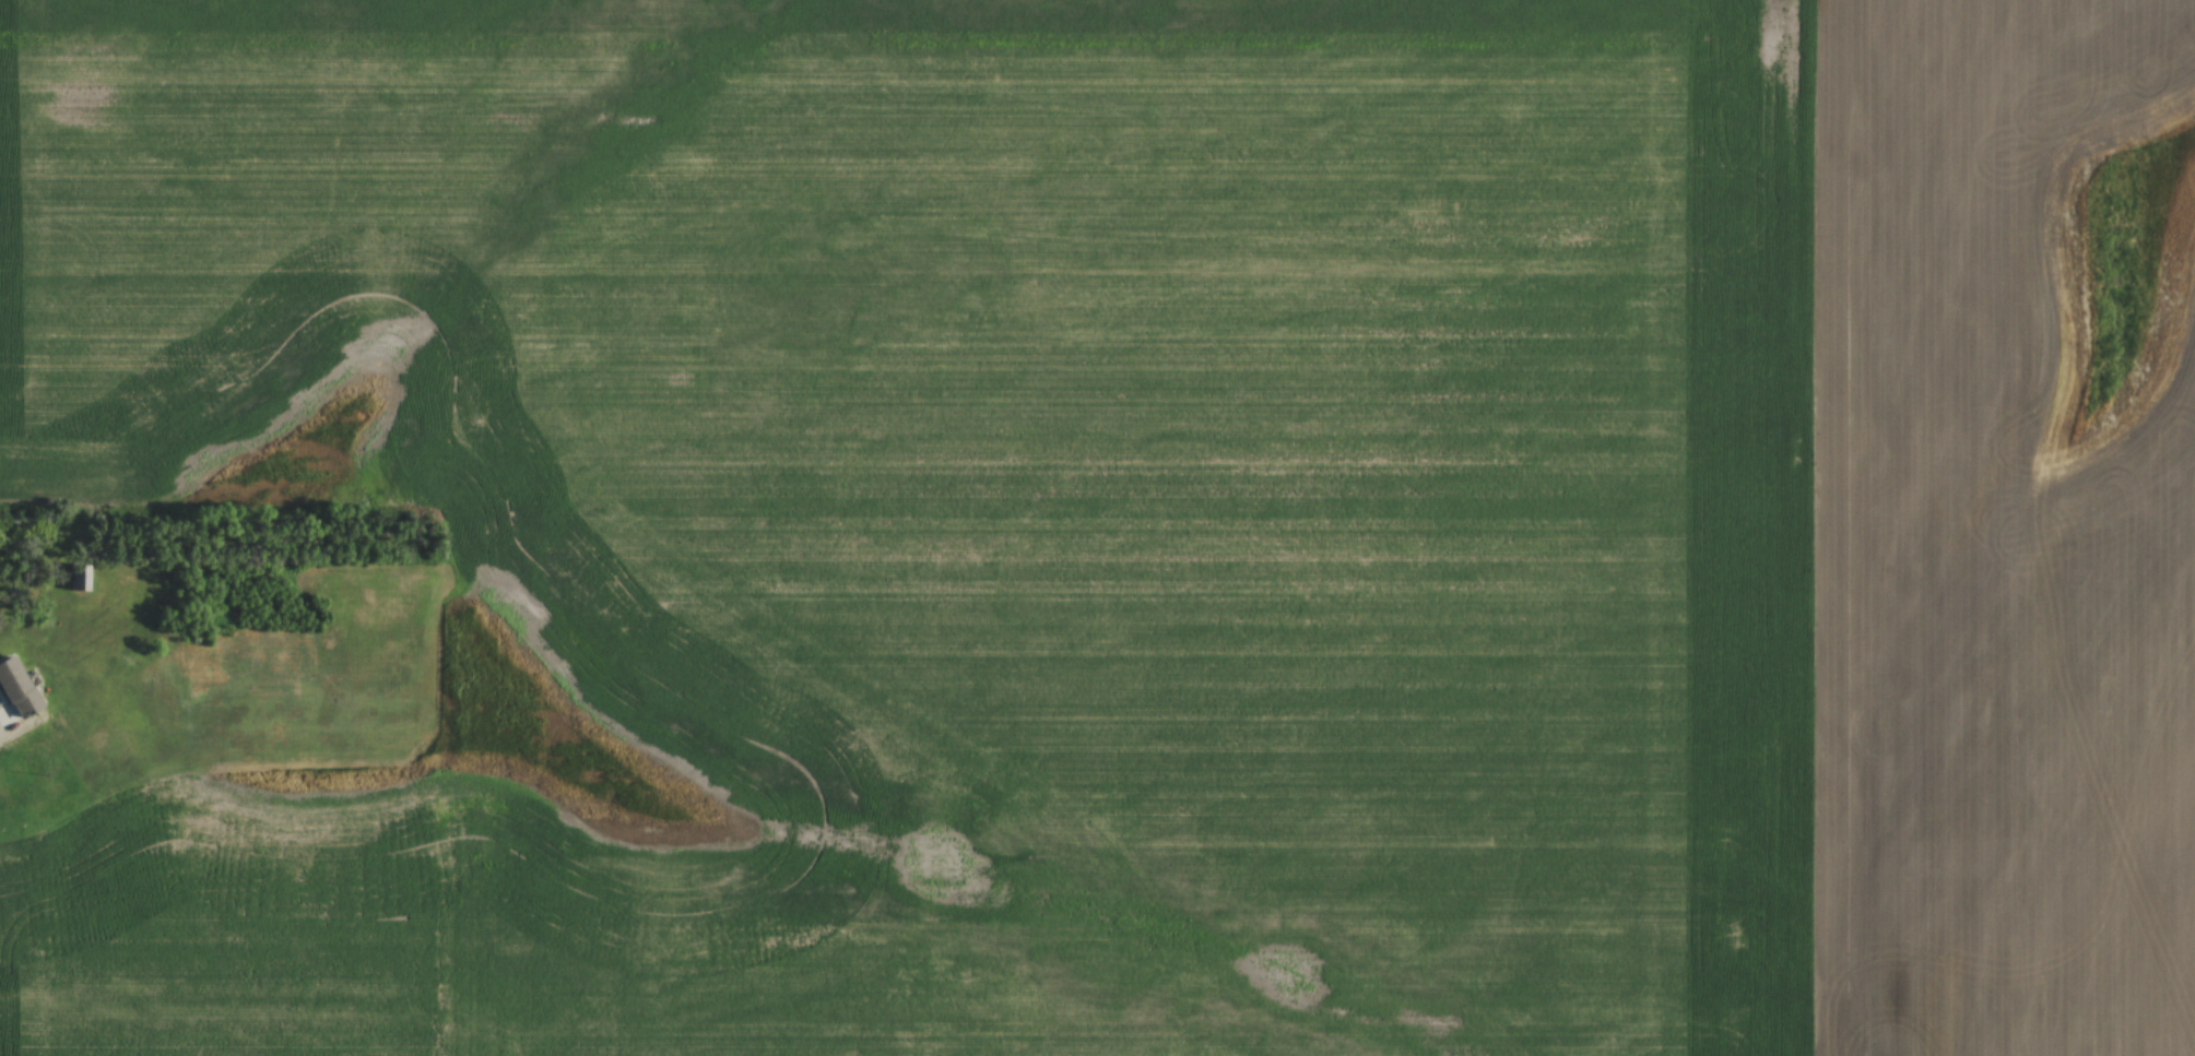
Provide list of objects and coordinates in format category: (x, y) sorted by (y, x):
building: (78, 576)
building: (12, 672)
building: (4, 768)

